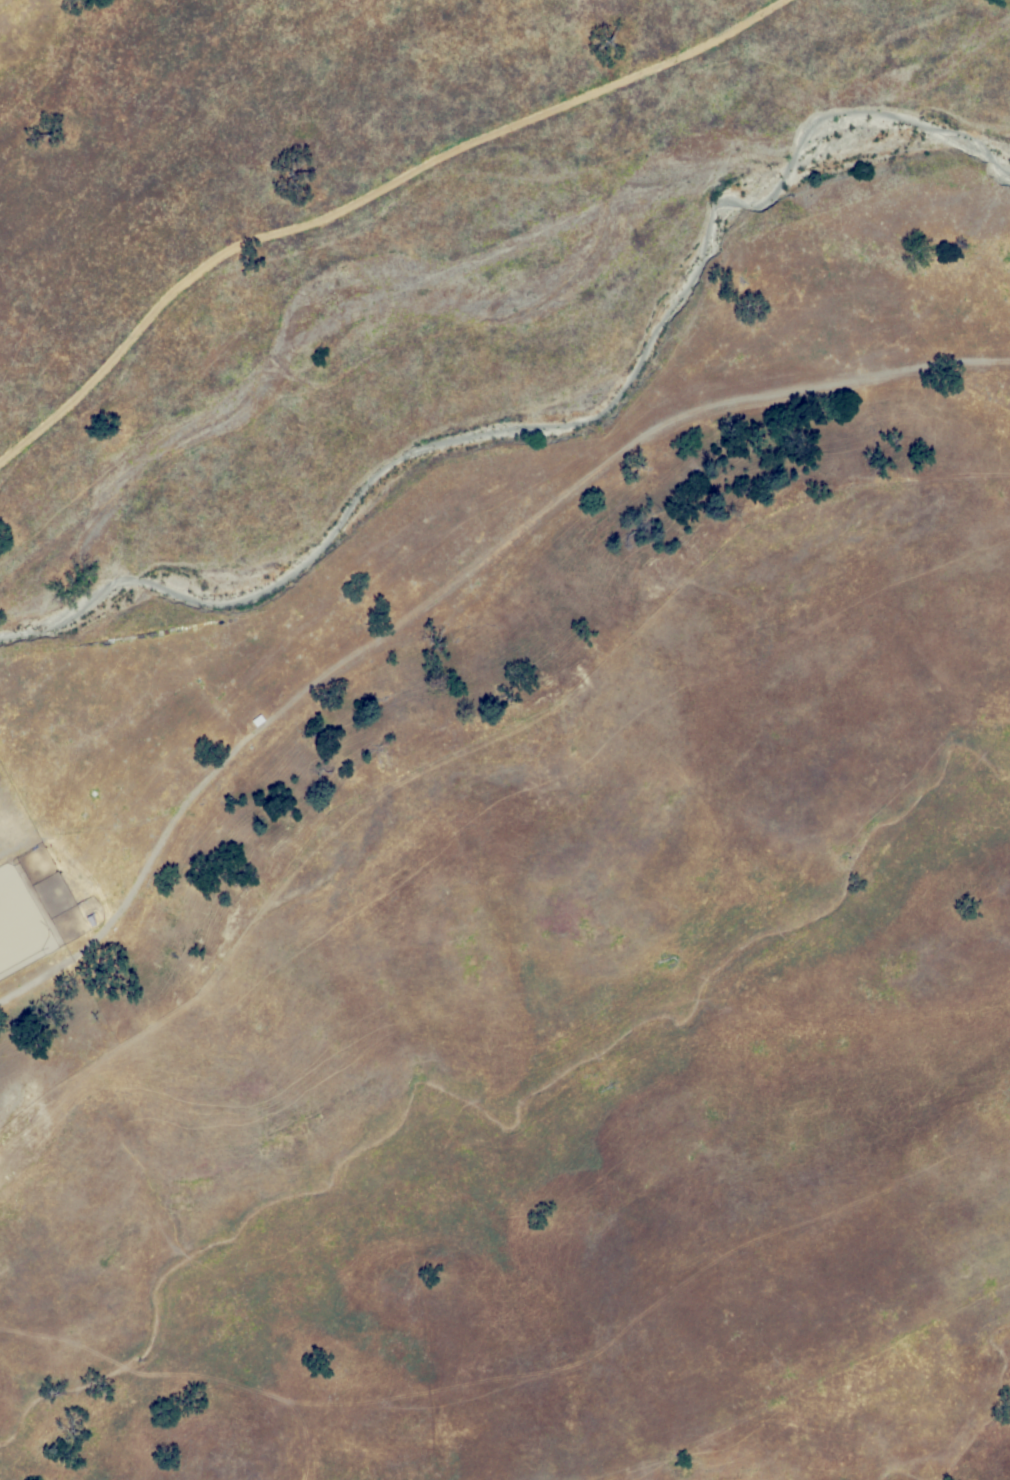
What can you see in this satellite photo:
road: (450, 591)

